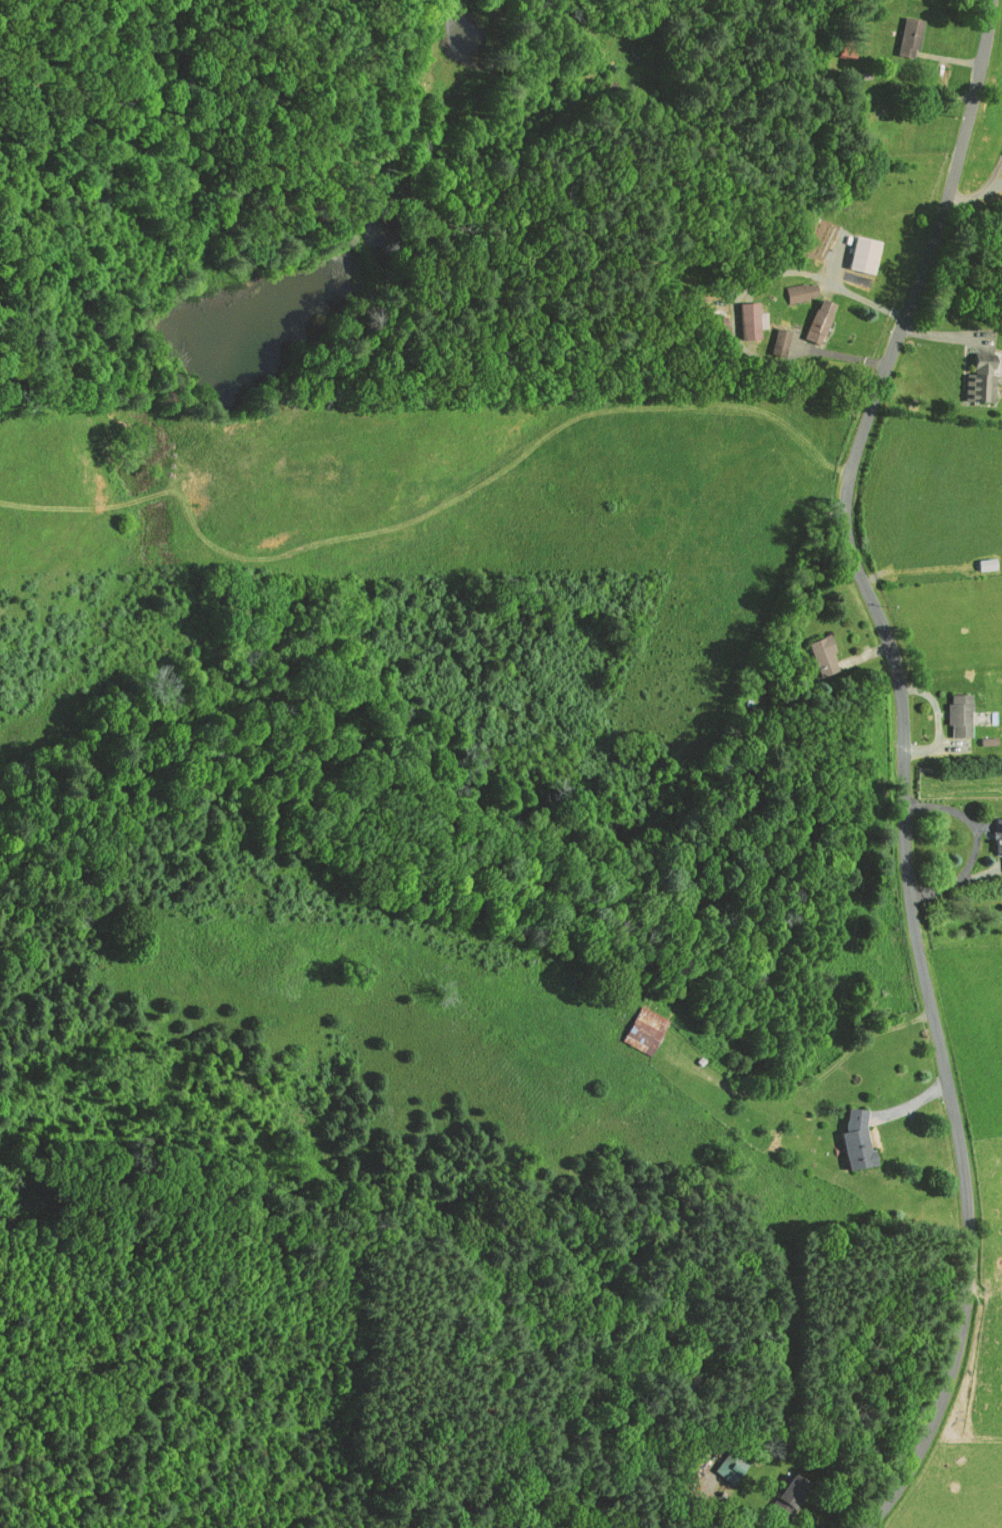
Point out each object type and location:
road: (981, 192)
road: (822, 280)
road: (905, 763)
road: (813, 1084)

